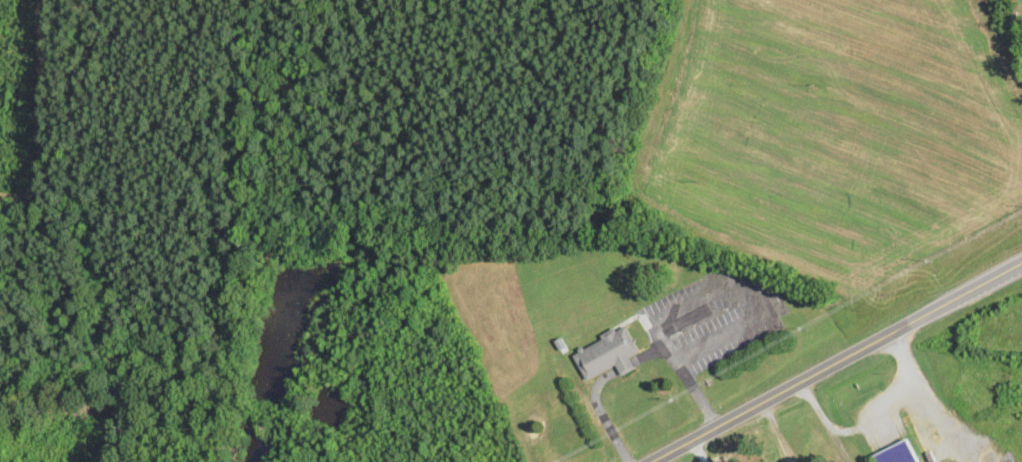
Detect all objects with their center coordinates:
road: (758, 301)
road: (659, 335)
building: (562, 342)
building: (607, 351)
road: (837, 360)
building: (627, 365)
road: (627, 365)
road: (685, 371)
road: (600, 413)
building: (901, 454)

